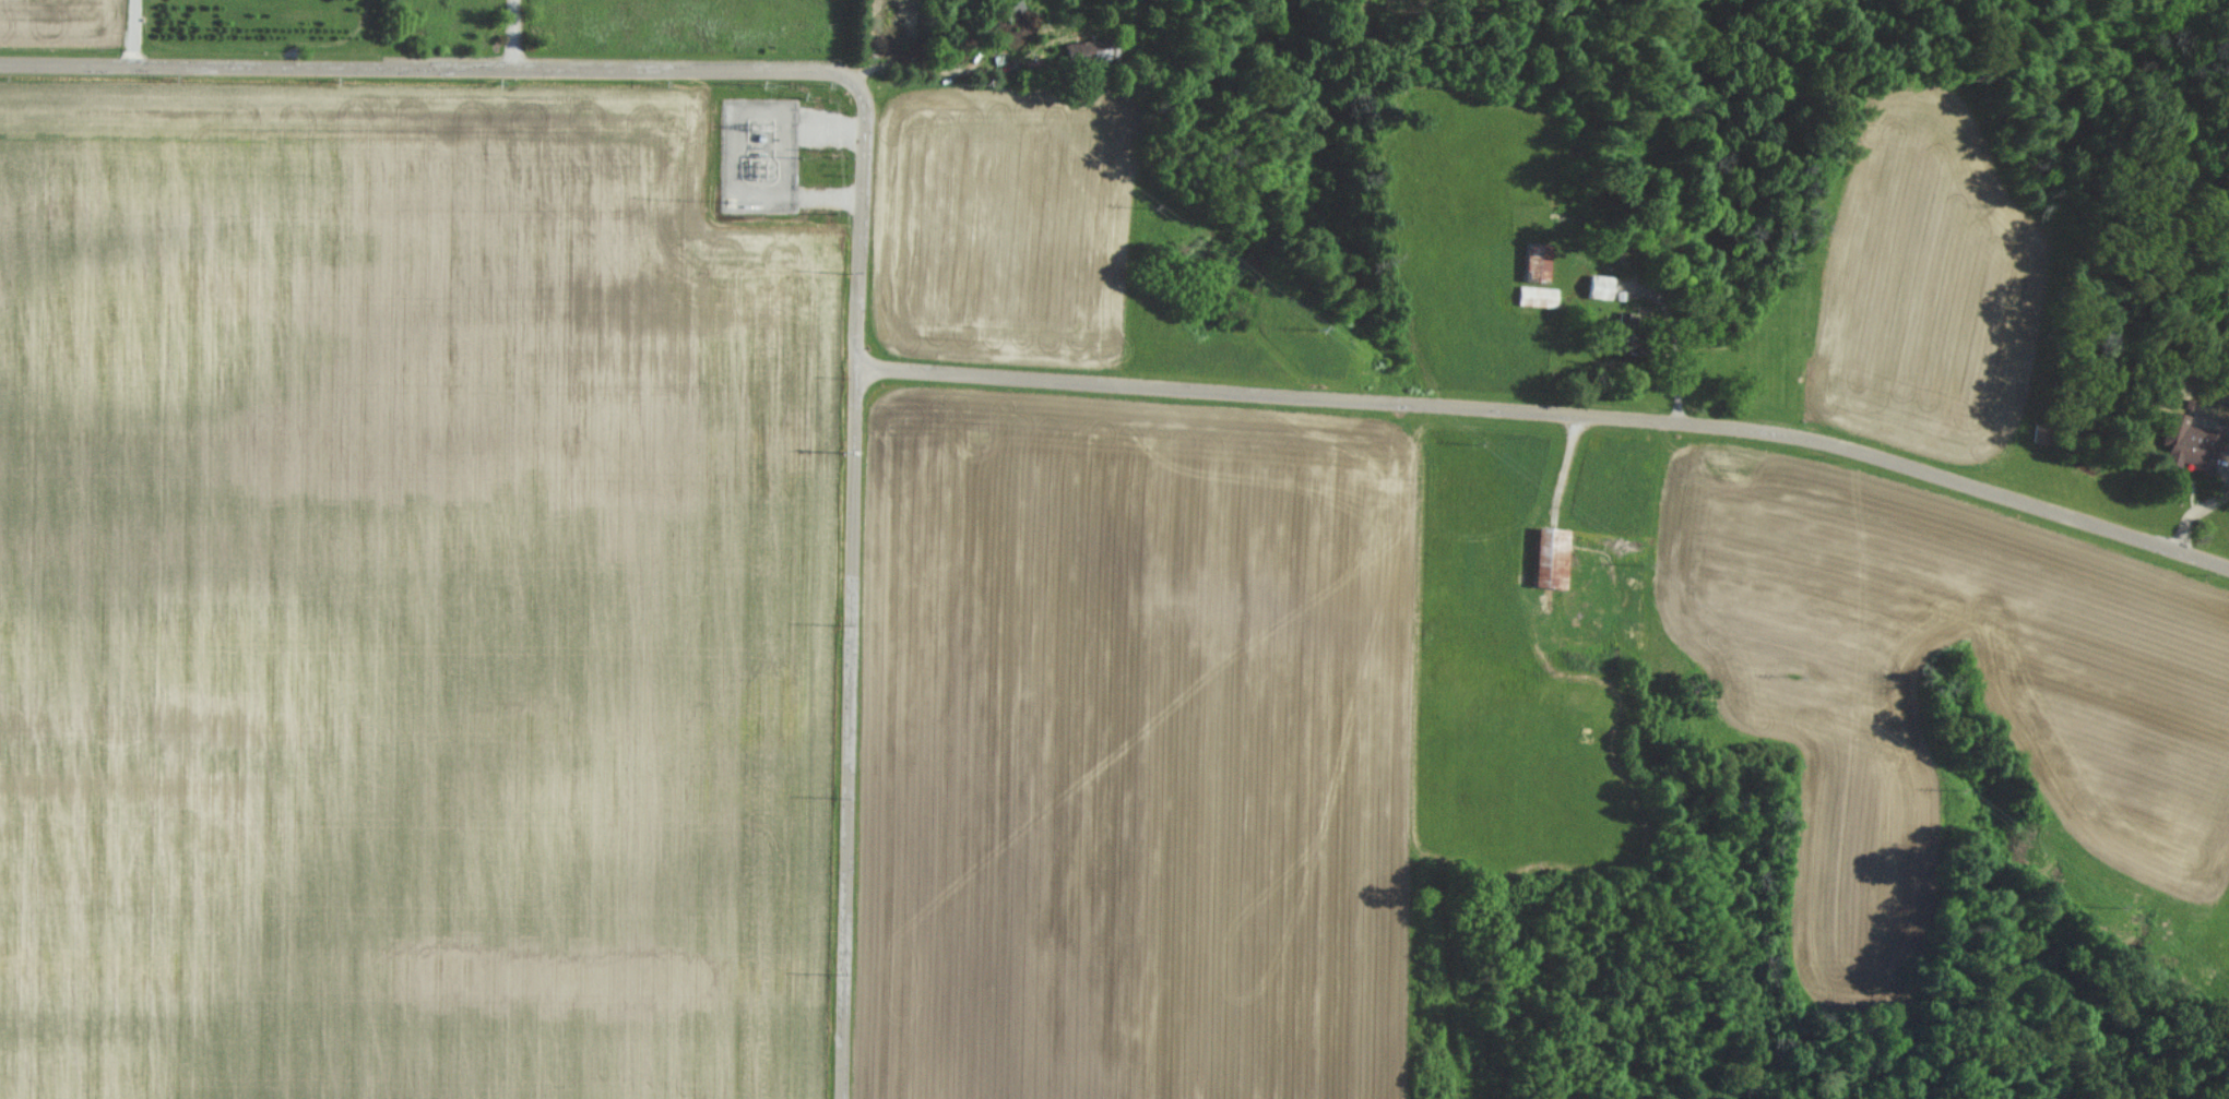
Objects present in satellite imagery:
road: (129, 34)
road: (500, 35)
building: (1081, 50)
road: (567, 70)
road: (940, 72)
power substation: (762, 153)
building: (1597, 286)
building: (1537, 296)
road: (1549, 414)
building: (2189, 444)
building: (1546, 553)
road: (841, 734)

